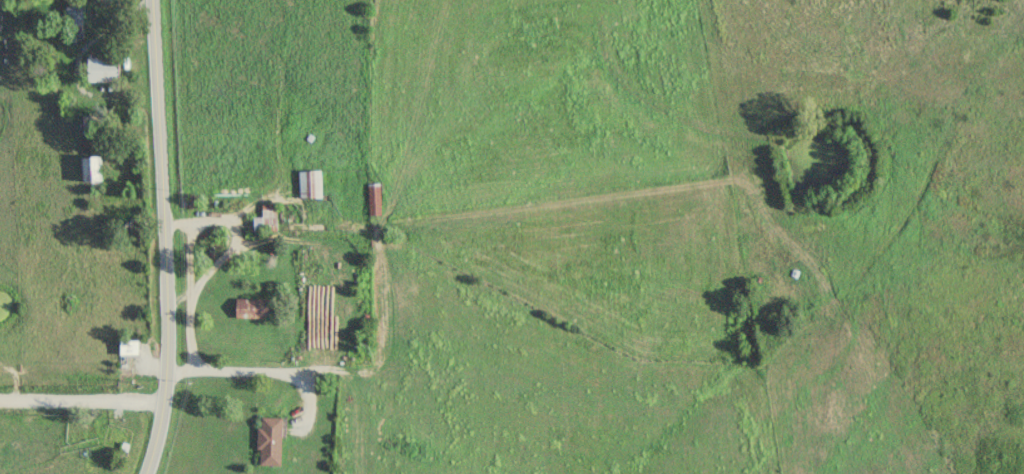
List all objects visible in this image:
building: (91, 170)
building: (311, 185)
building: (375, 200)
building: (267, 219)
road: (162, 237)
building: (253, 309)
building: (130, 348)
road: (82, 404)
building: (271, 442)

